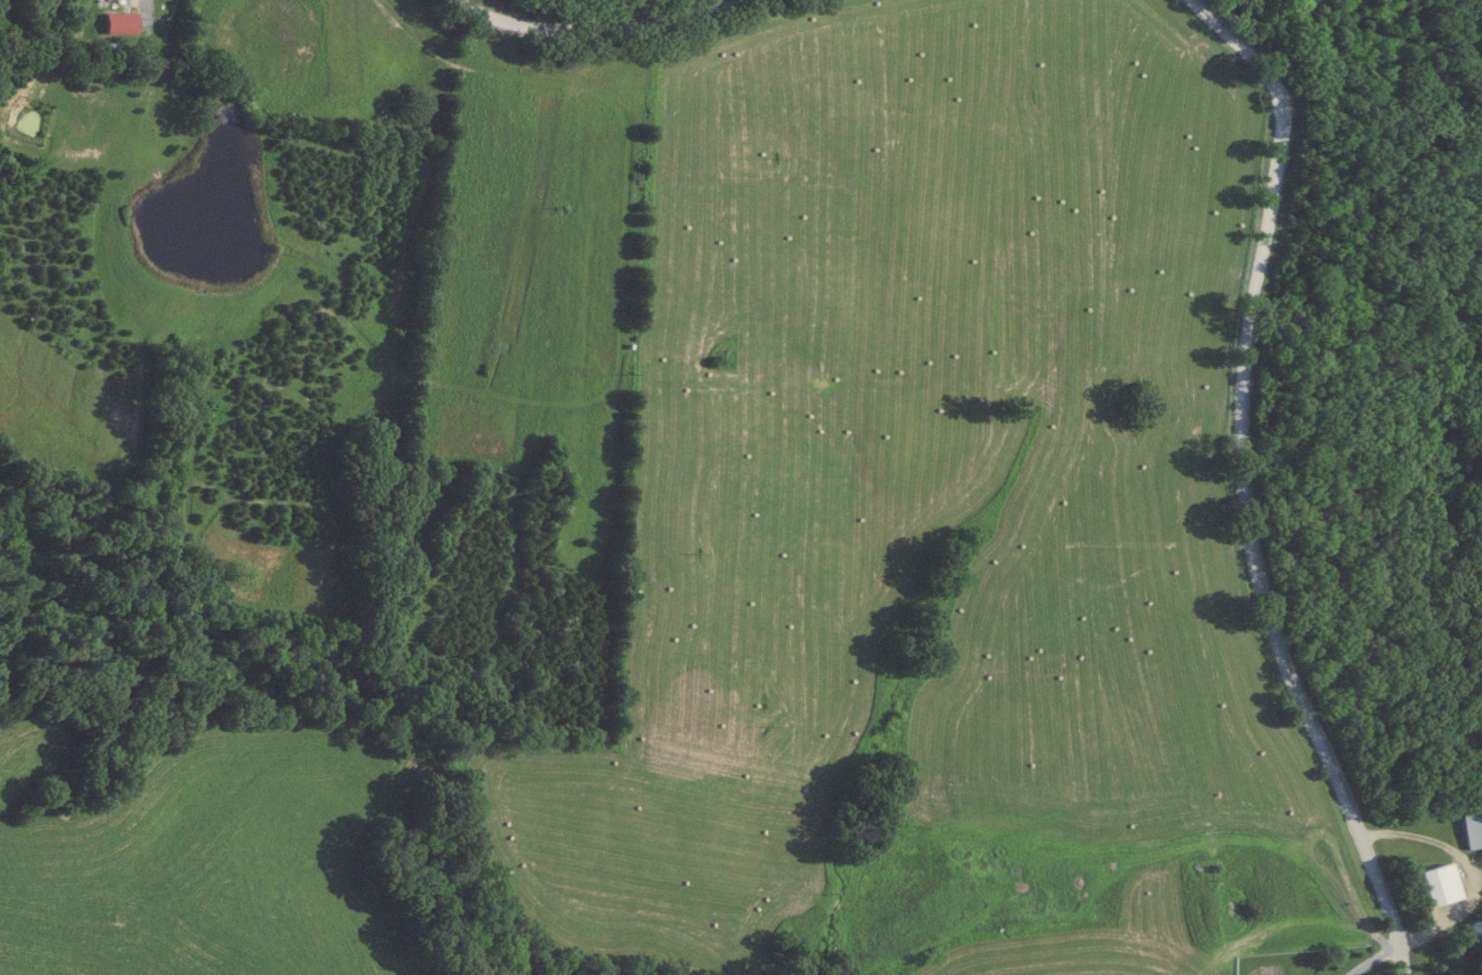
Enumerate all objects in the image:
building: (120, 23)
road: (599, 34)
road: (1238, 485)
building: (1470, 830)
building: (1436, 885)
road: (1369, 958)

